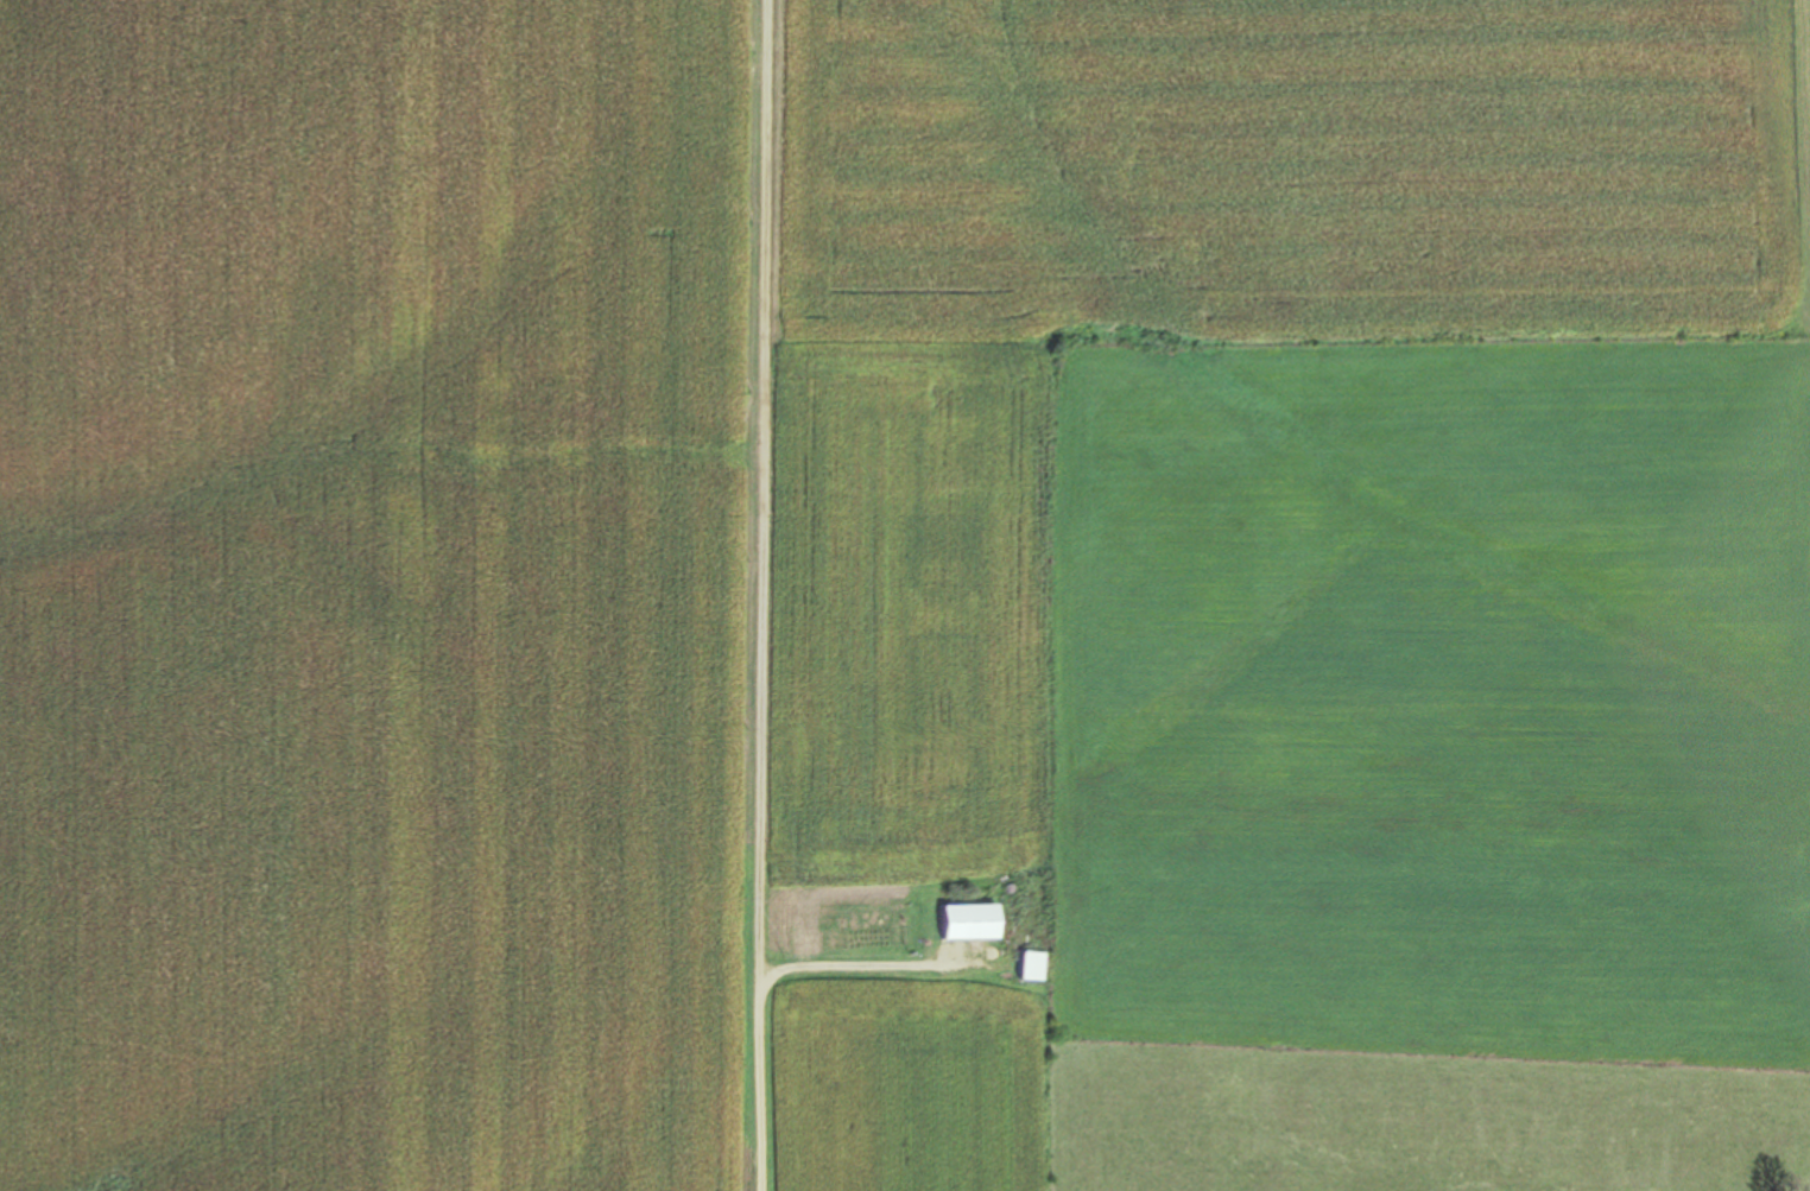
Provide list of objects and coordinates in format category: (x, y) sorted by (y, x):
road: (766, 595)
building: (950, 920)
building: (1018, 964)
road: (868, 965)
building: (1036, 965)

